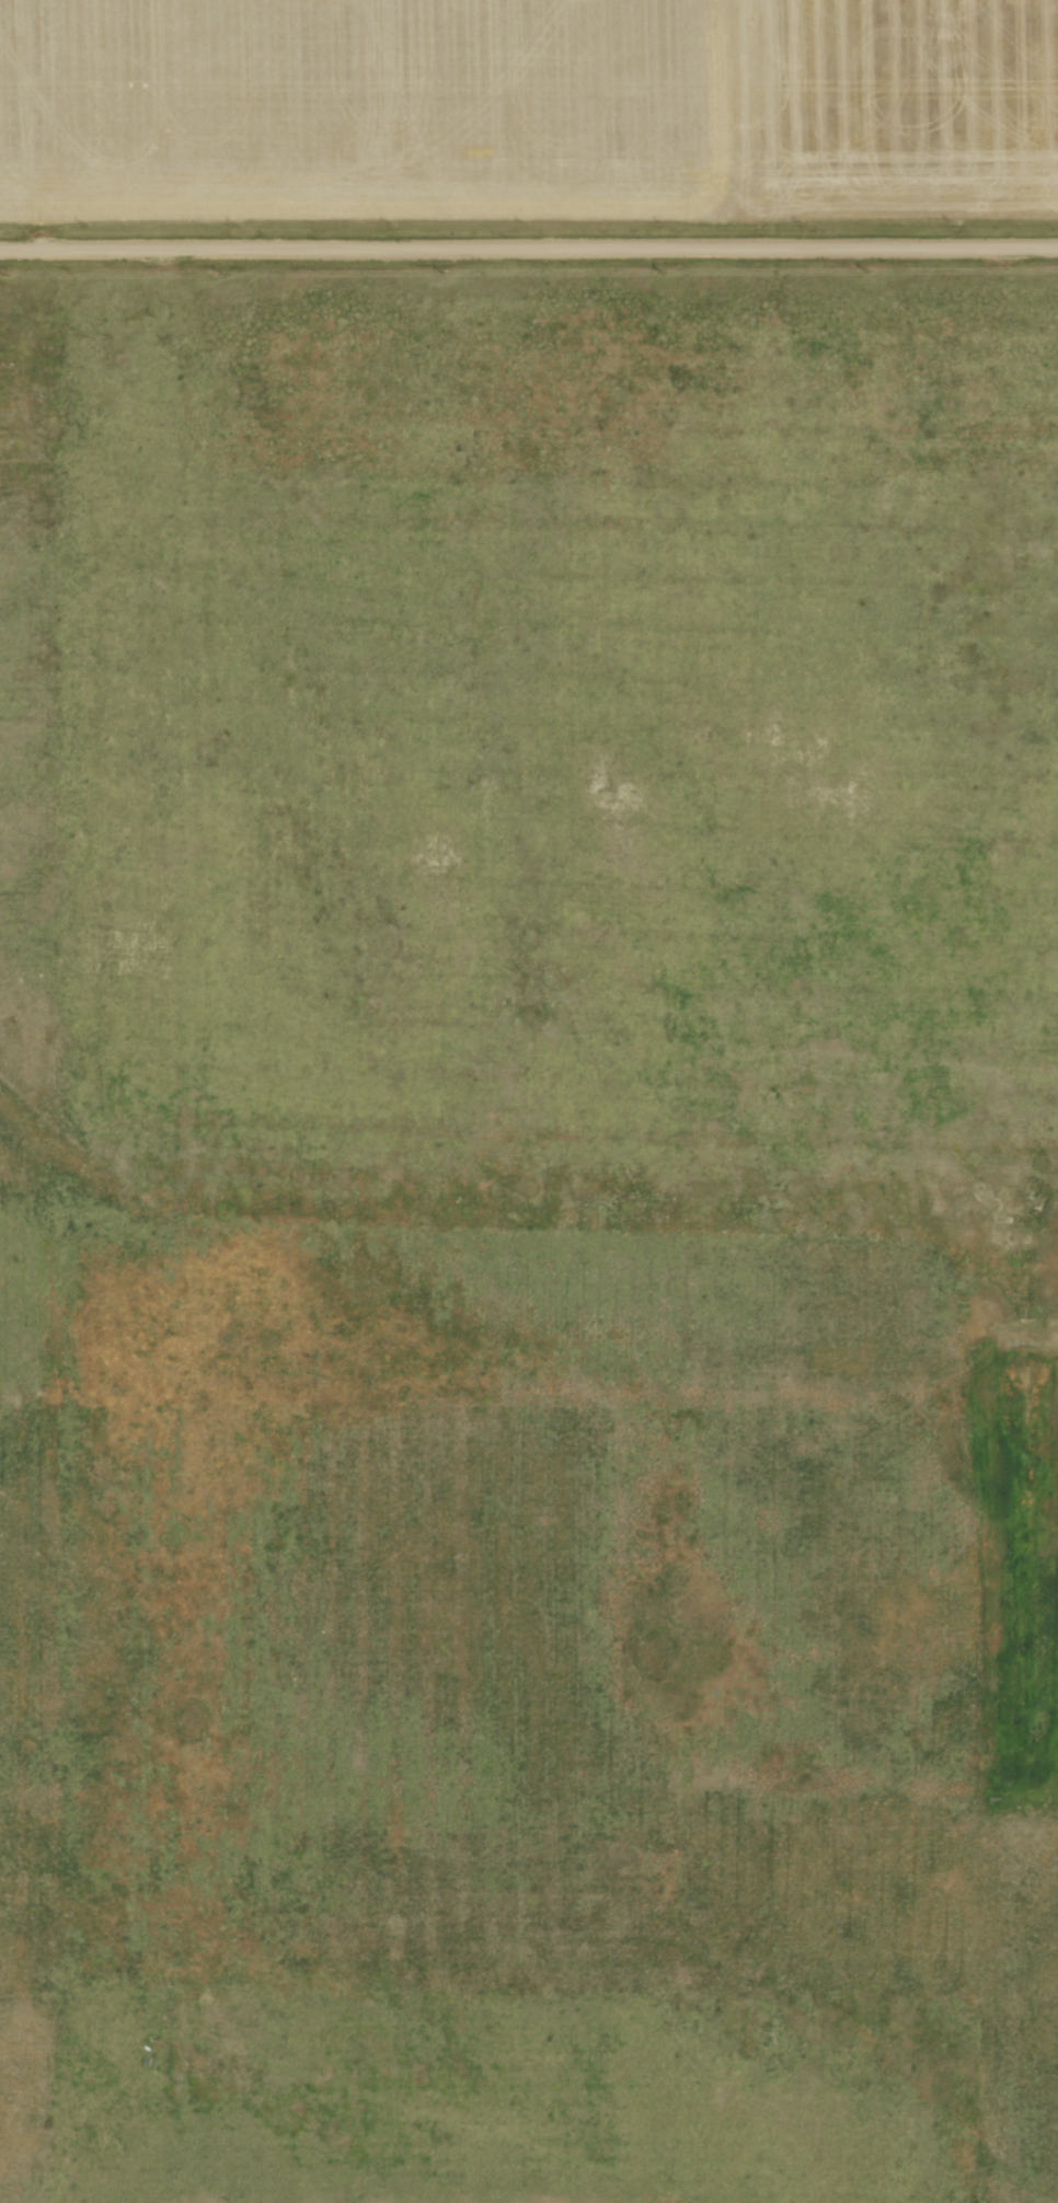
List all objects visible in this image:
crop: (527, 108)
road: (529, 247)
crop: (493, 1717)

